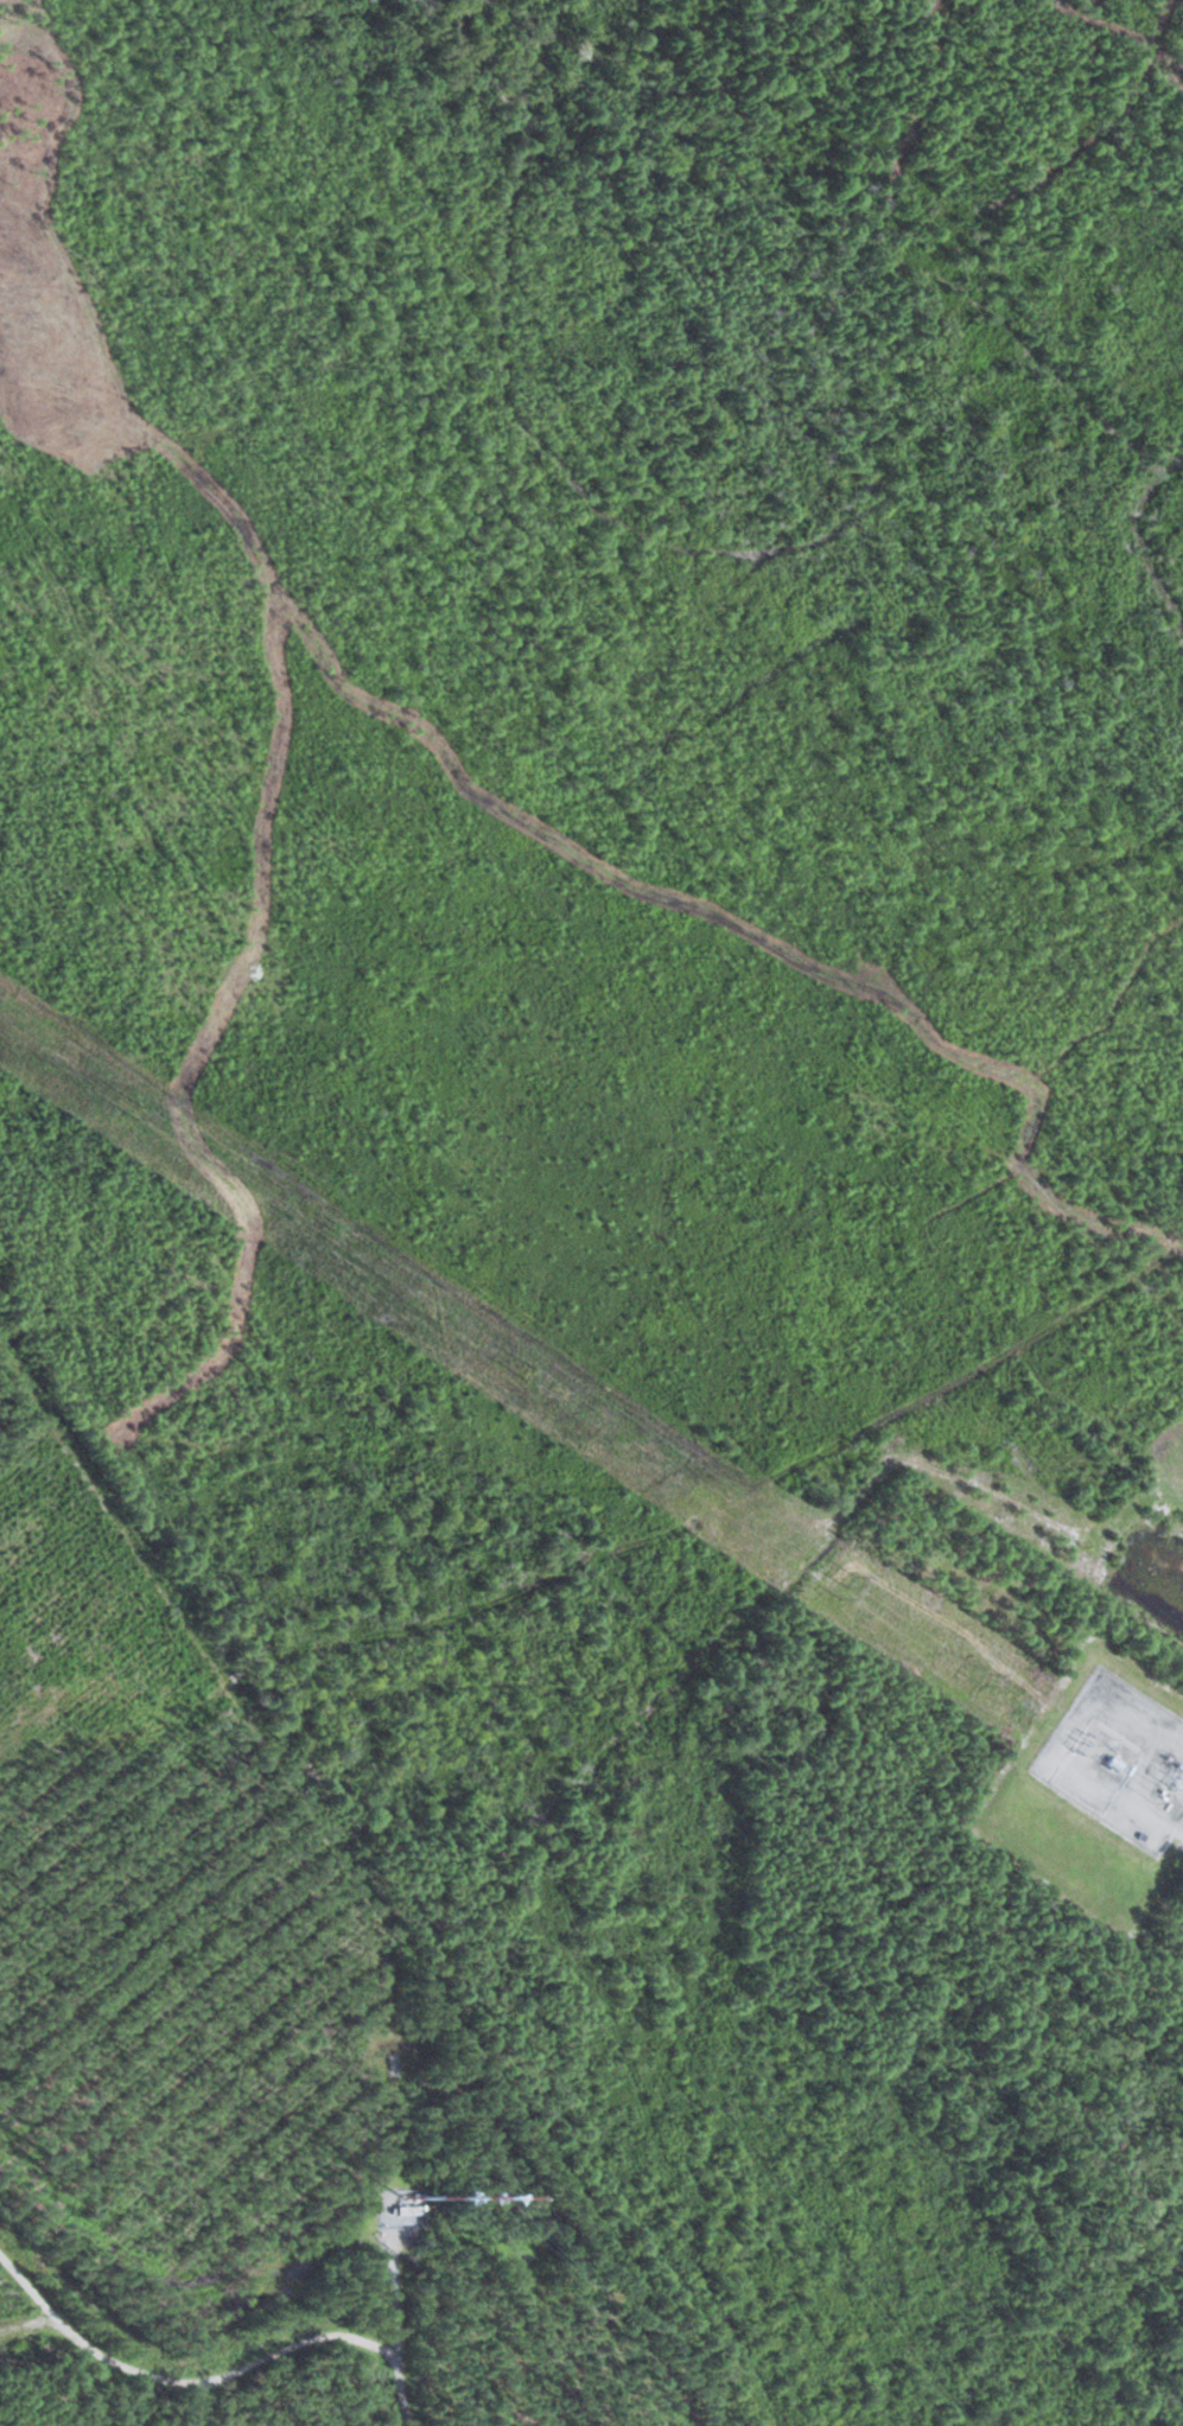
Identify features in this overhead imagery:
power tower: (138, 1110)
power tower: (532, 1371)
power tower: (850, 1586)
power tower: (988, 1680)
power substation: (1119, 1759)

